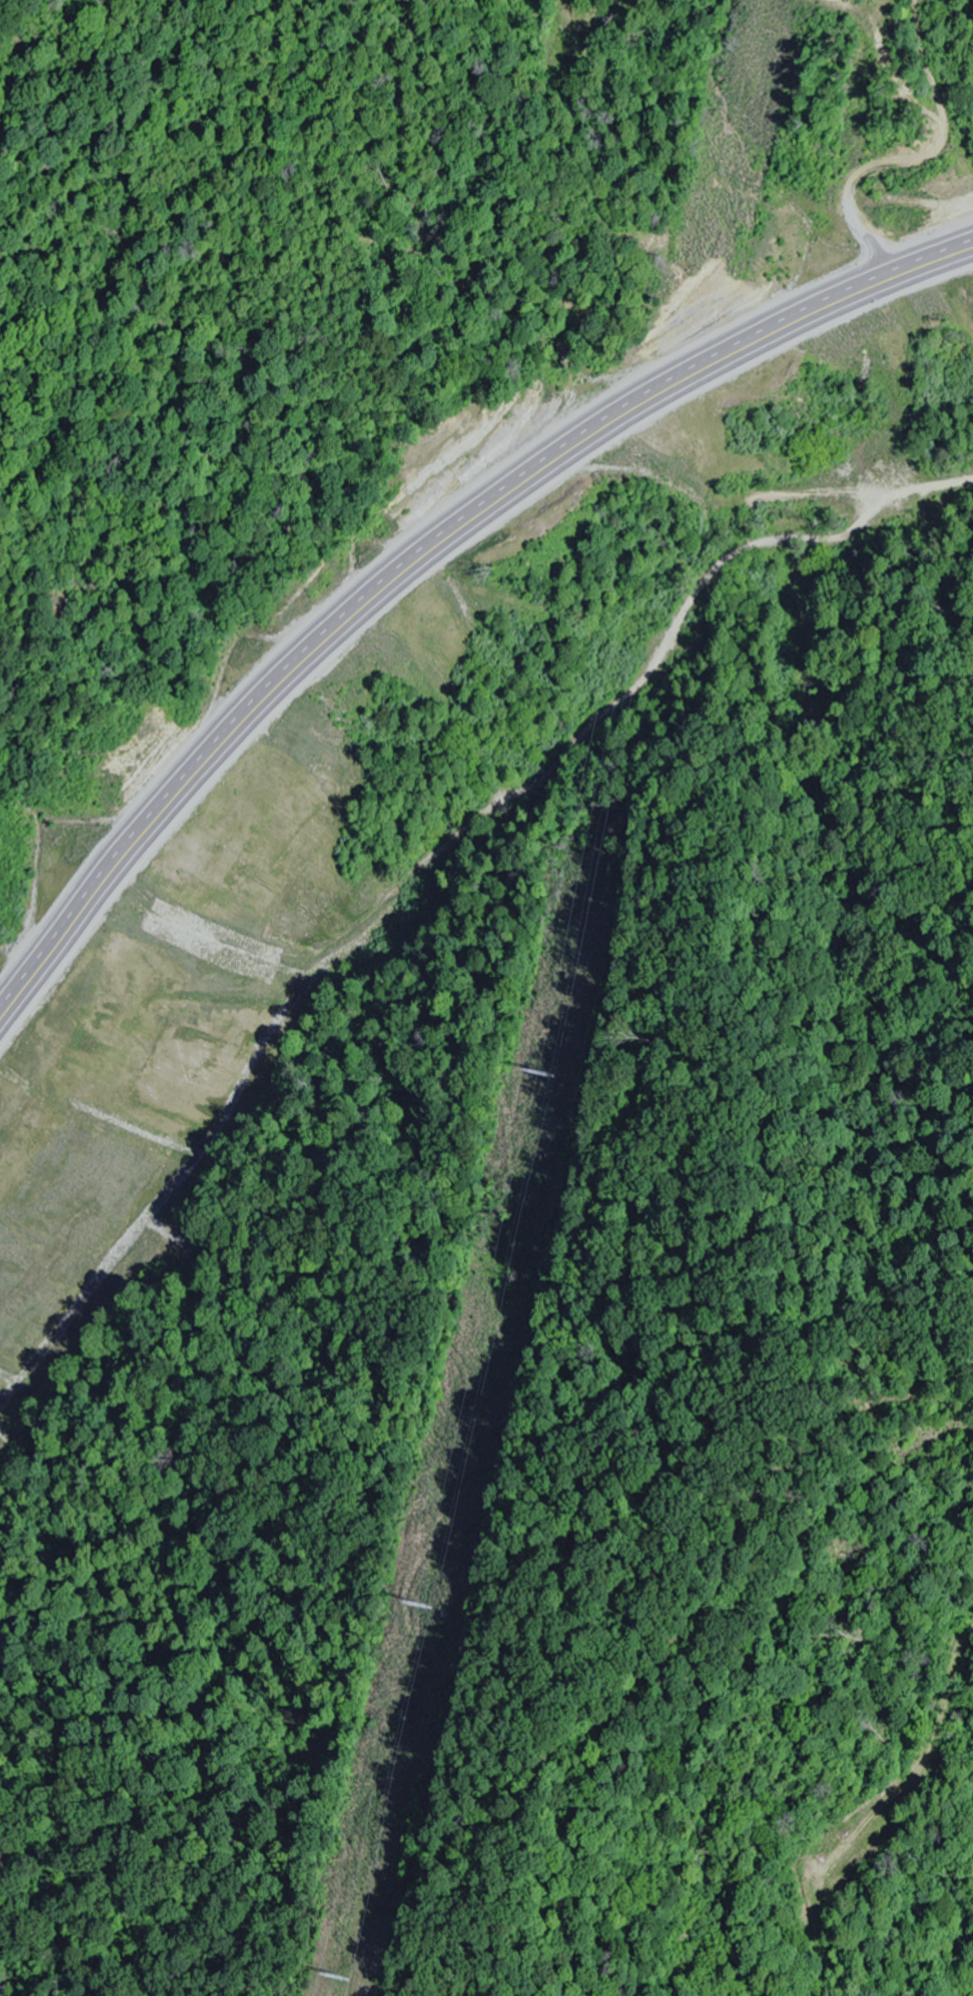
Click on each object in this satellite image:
road: (424, 550)
road: (676, 634)

